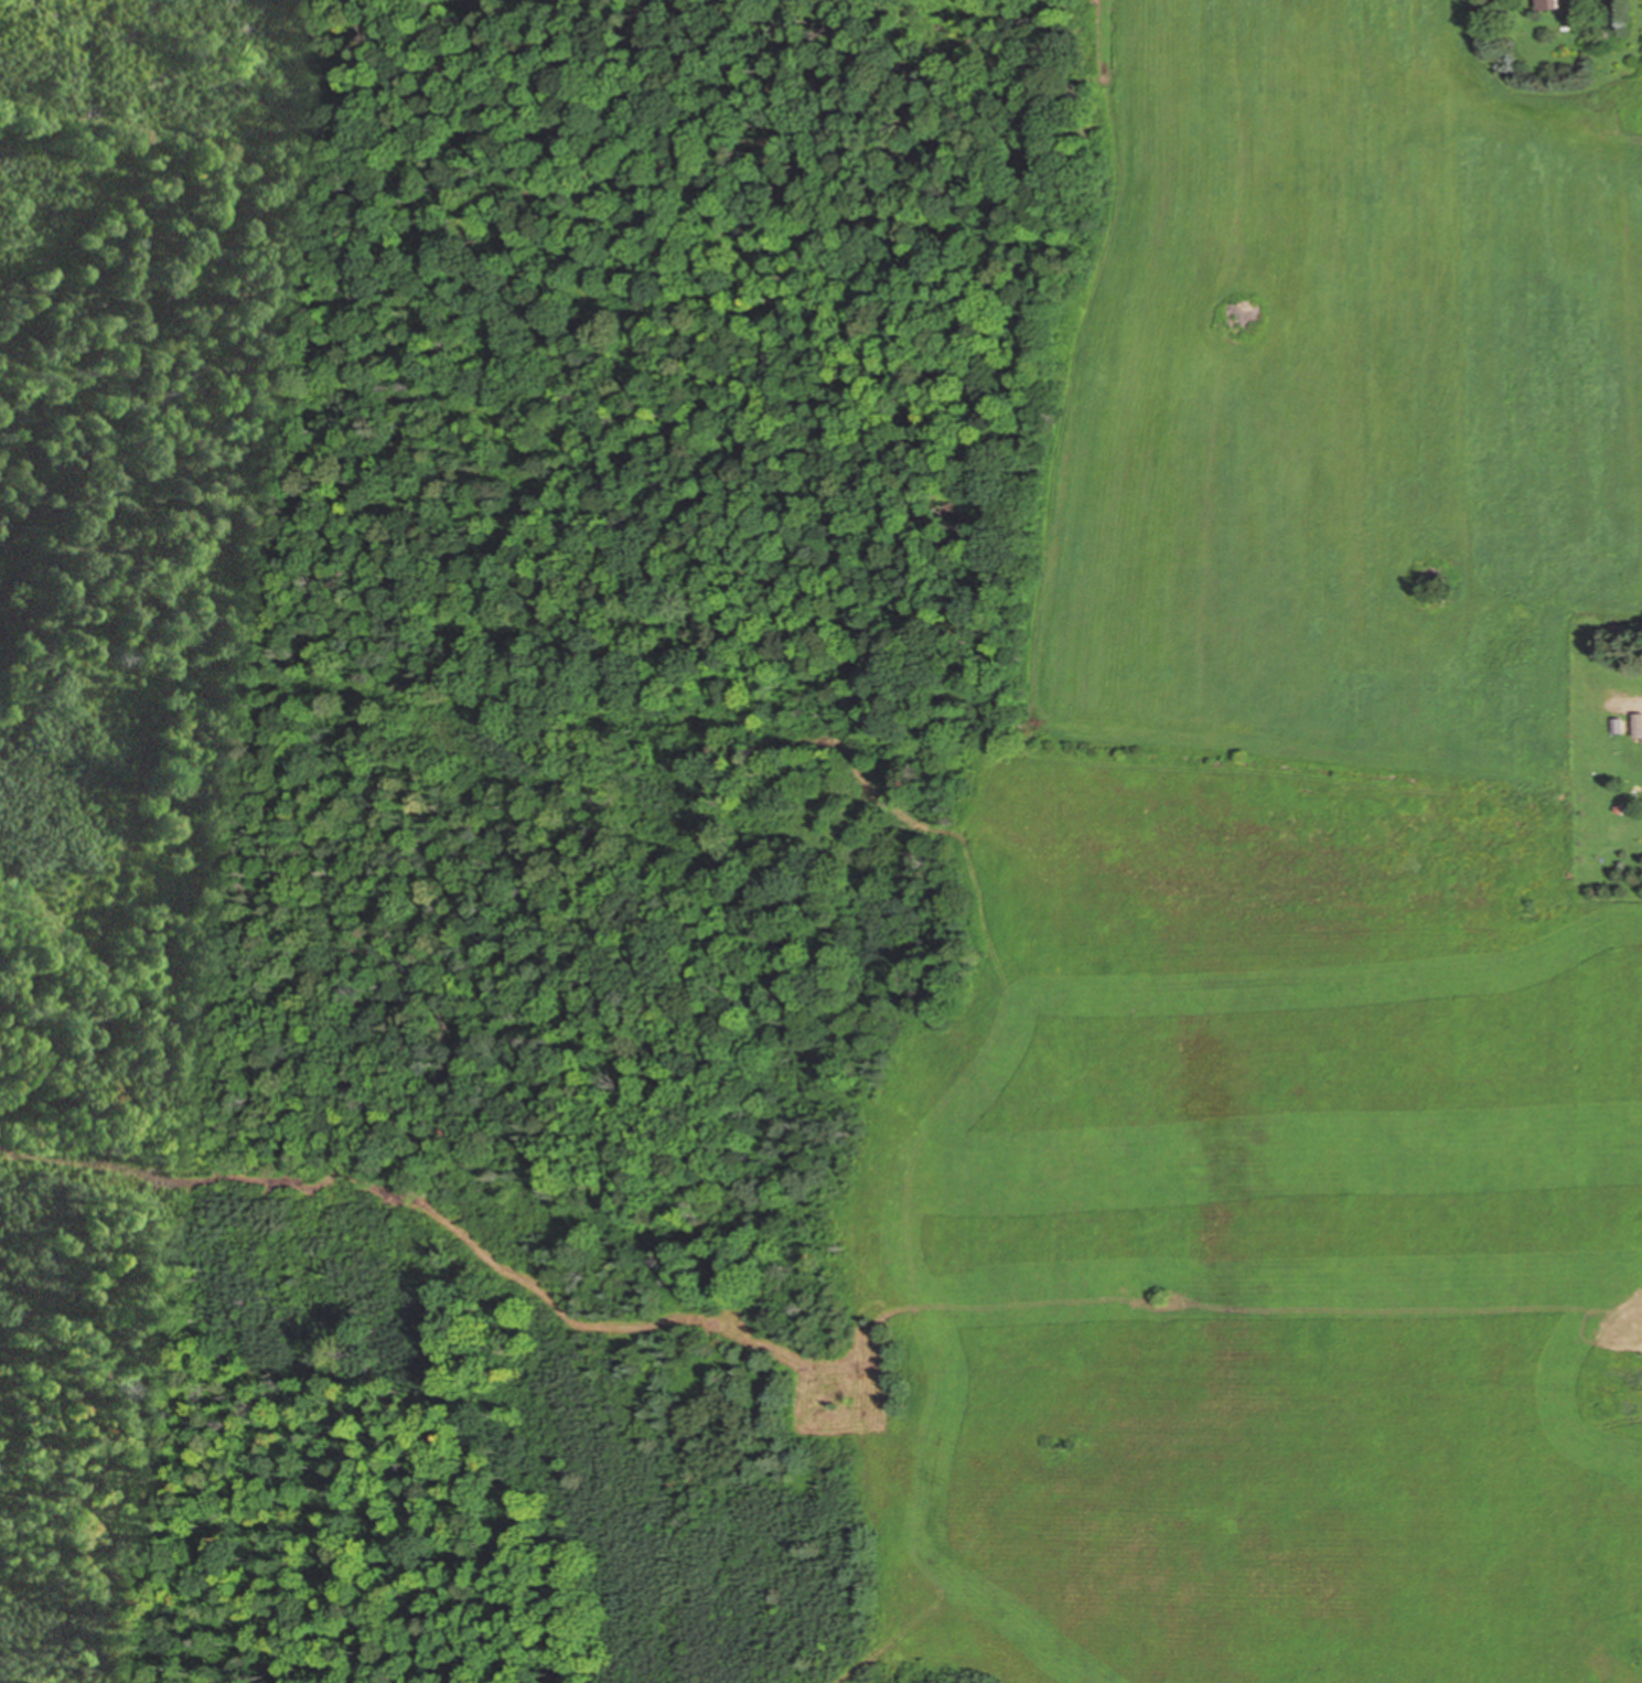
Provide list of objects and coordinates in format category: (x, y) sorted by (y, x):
building: (1555, 679)
building: (1566, 768)

